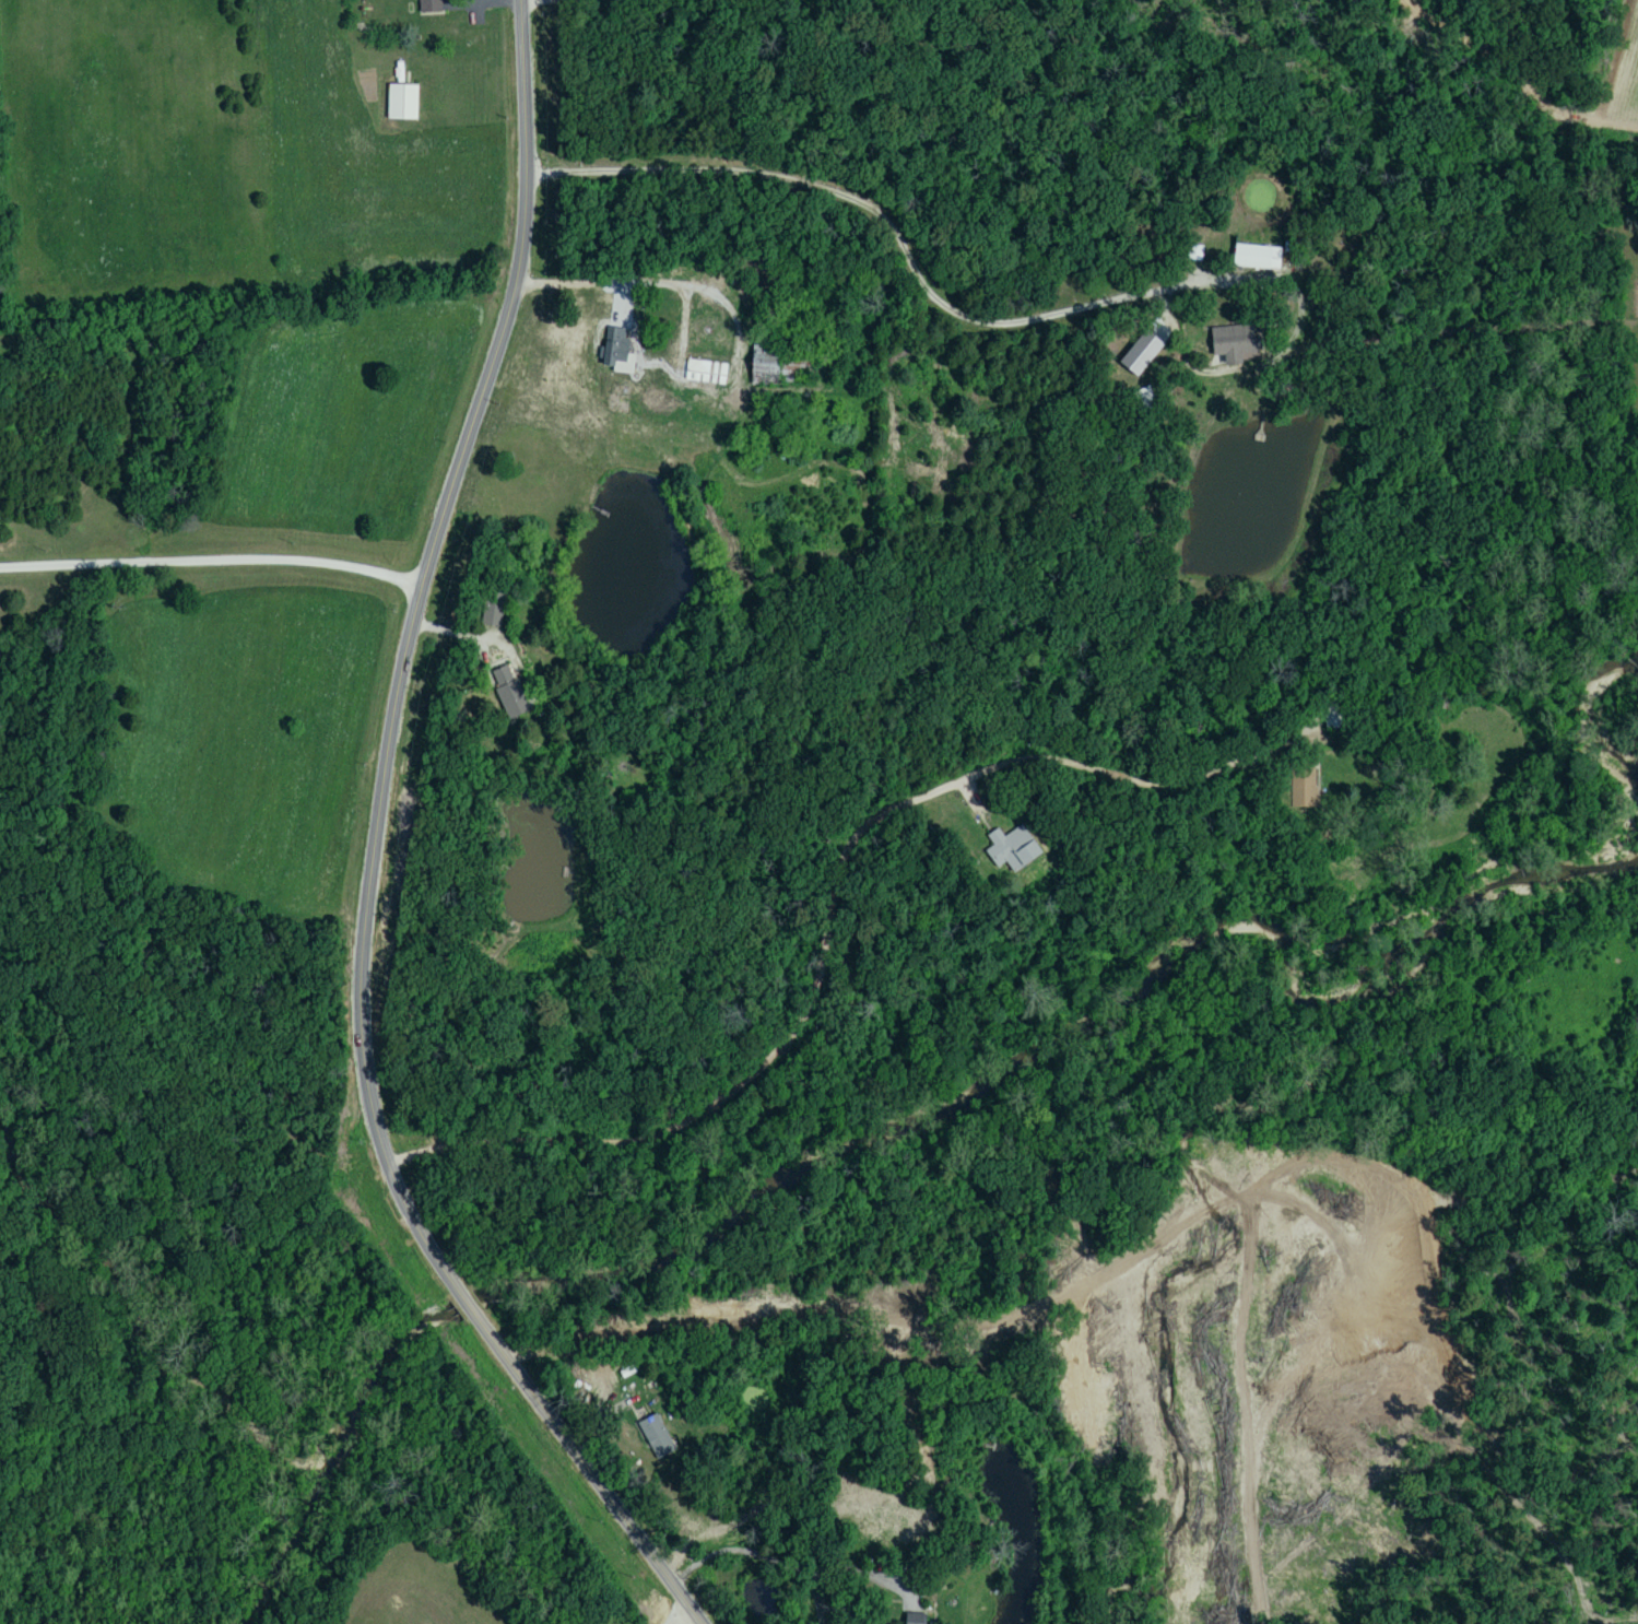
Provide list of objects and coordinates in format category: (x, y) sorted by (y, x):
building: (429, 7)
building: (402, 104)
road: (882, 216)
building: (1437, 234)
building: (1257, 259)
building: (1366, 264)
road: (638, 283)
building: (1233, 342)
building: (621, 349)
building: (778, 374)
road: (212, 560)
building: (494, 609)
building: (509, 692)
building: (1334, 718)
building: (1305, 789)
building: (1012, 849)
road: (372, 854)
road: (824, 903)
building: (656, 1435)
road: (758, 1551)
building: (914, 1620)

